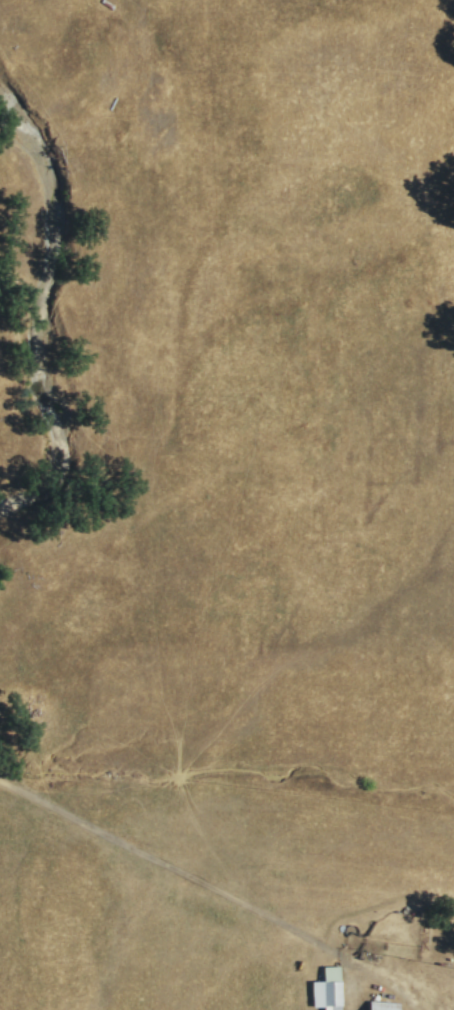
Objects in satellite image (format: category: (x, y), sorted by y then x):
road: (212, 888)
building: (325, 989)
road: (357, 989)
building: (381, 1005)

